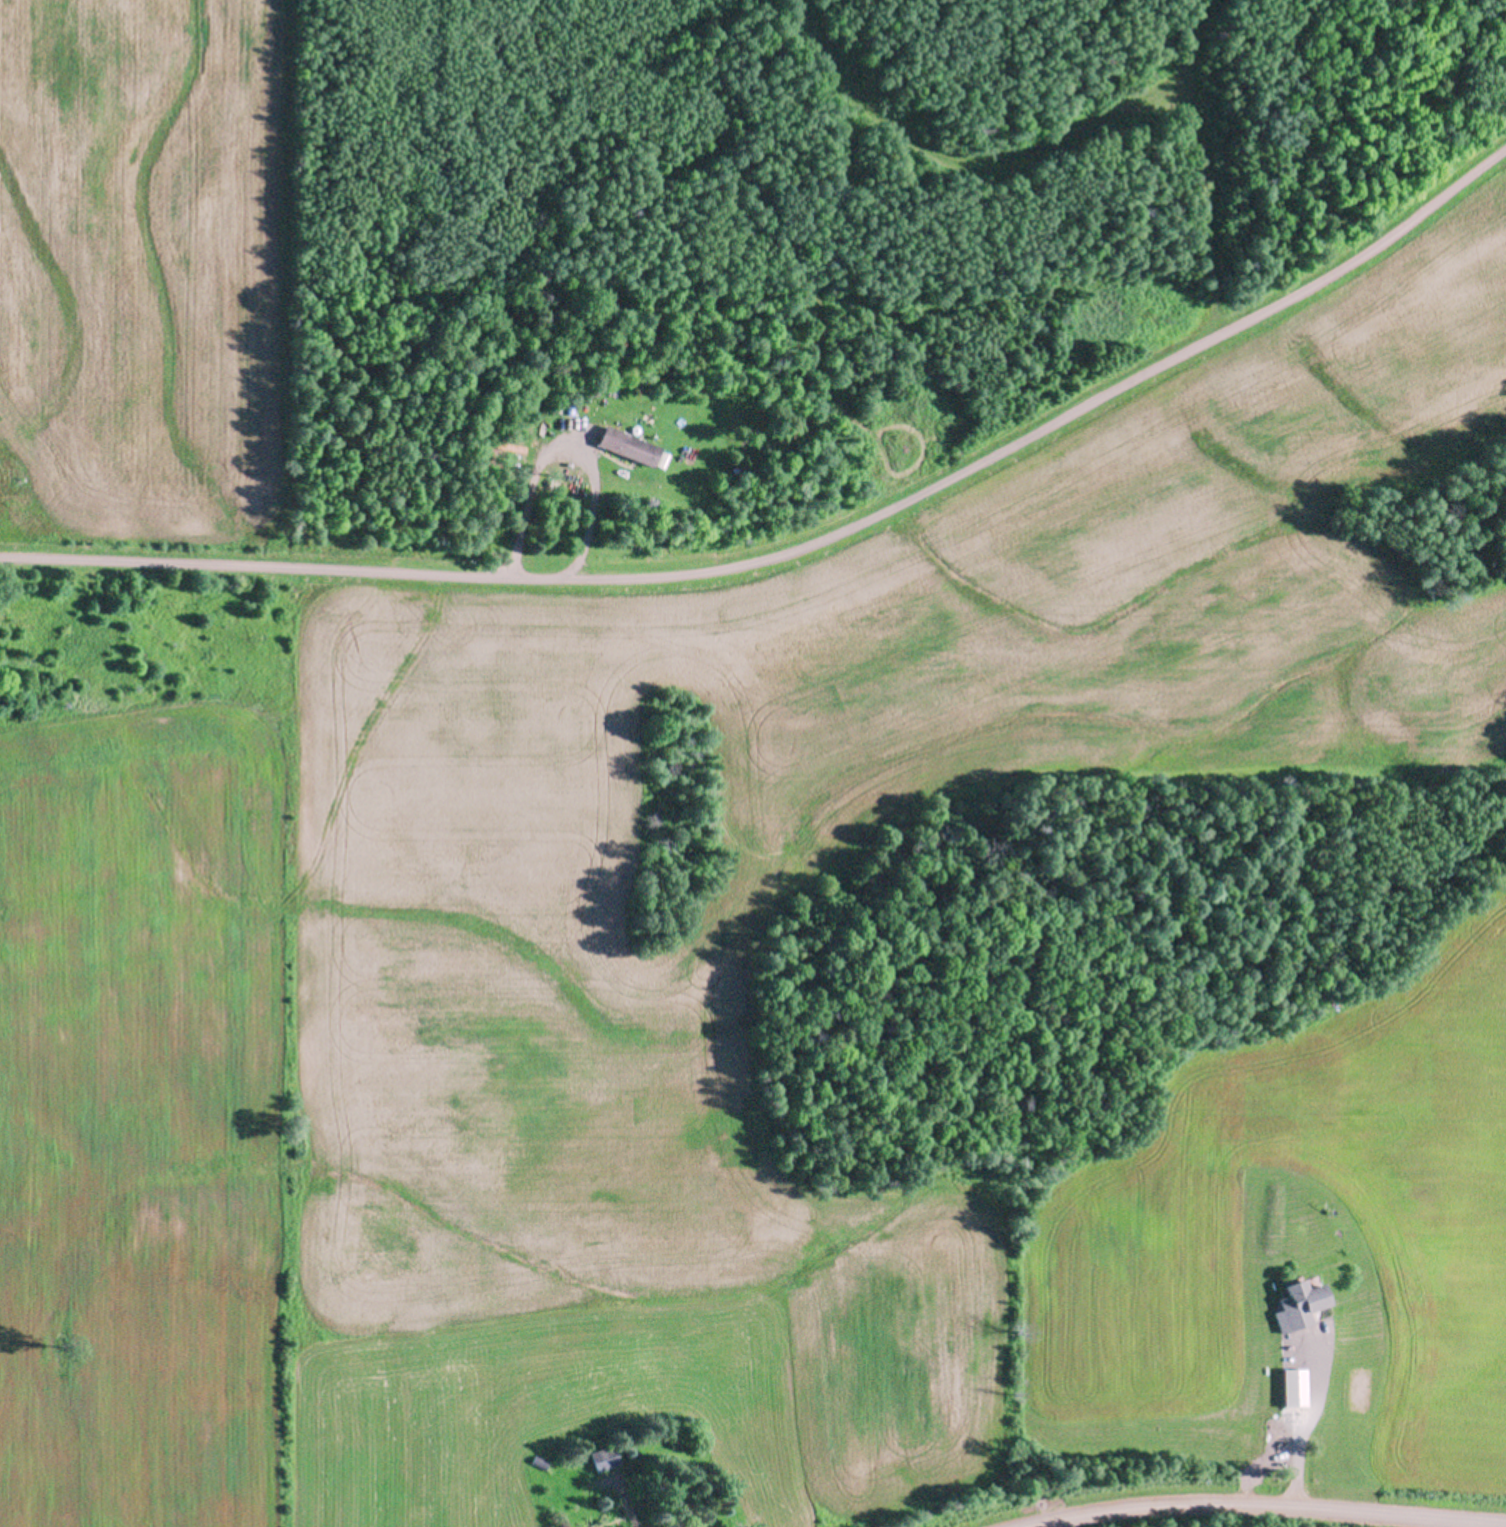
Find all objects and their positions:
building: (628, 445)
road: (566, 455)
road: (804, 545)
building: (1250, 1301)
building: (1300, 1303)
building: (1295, 1387)
road: (1302, 1432)
building: (603, 1456)
building: (539, 1462)
building: (558, 1497)
road: (1265, 1506)
road: (623, 1507)

